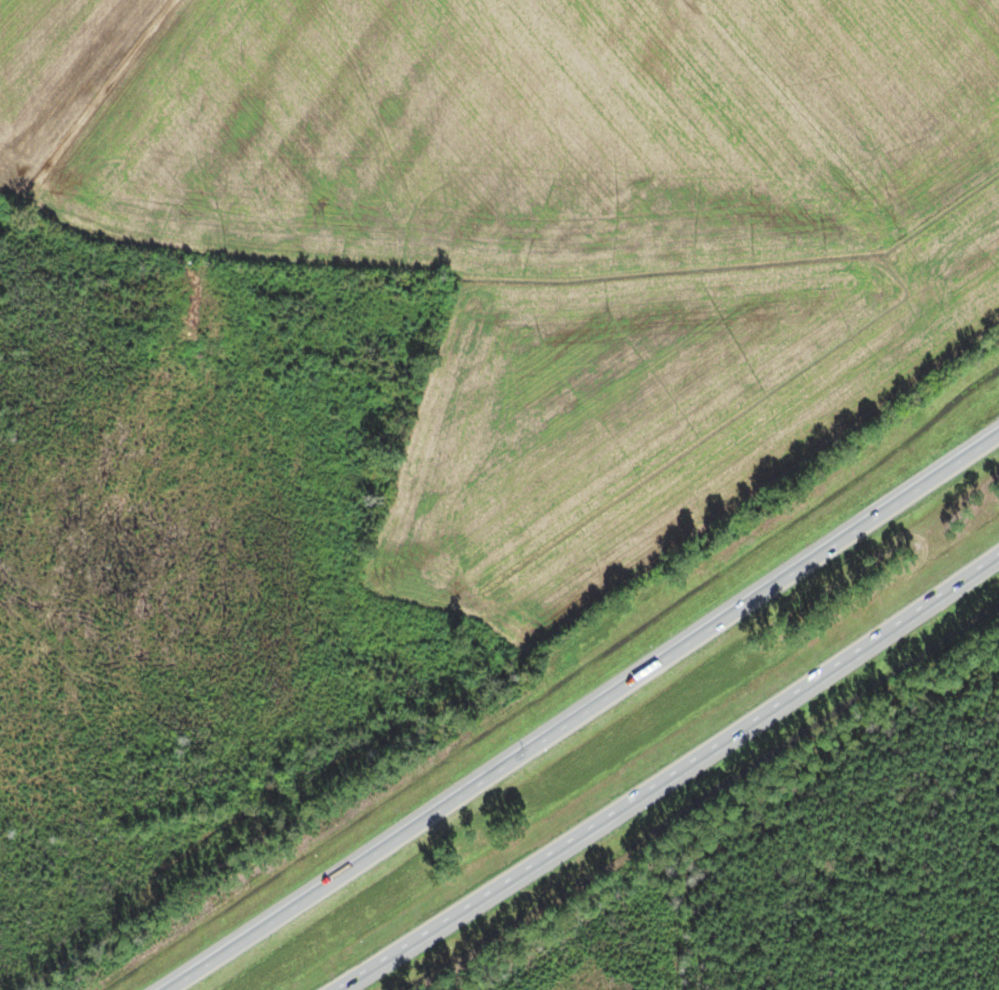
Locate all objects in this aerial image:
road: (575, 710)
road: (671, 779)

